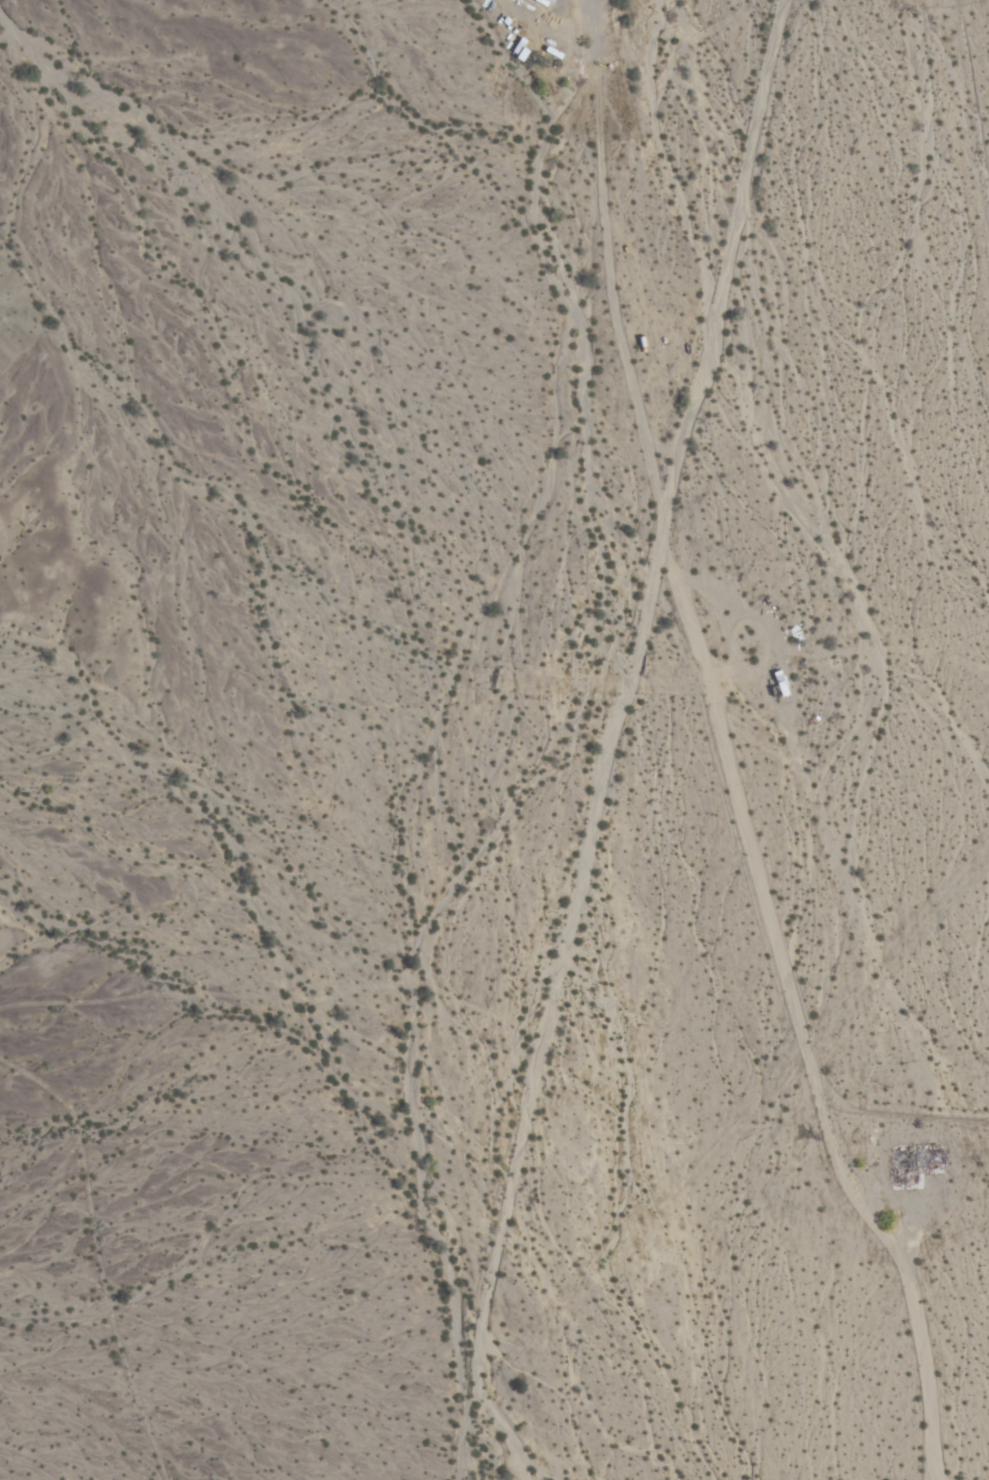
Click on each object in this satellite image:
building: (551, 1)
building: (780, 683)
building: (914, 1164)

